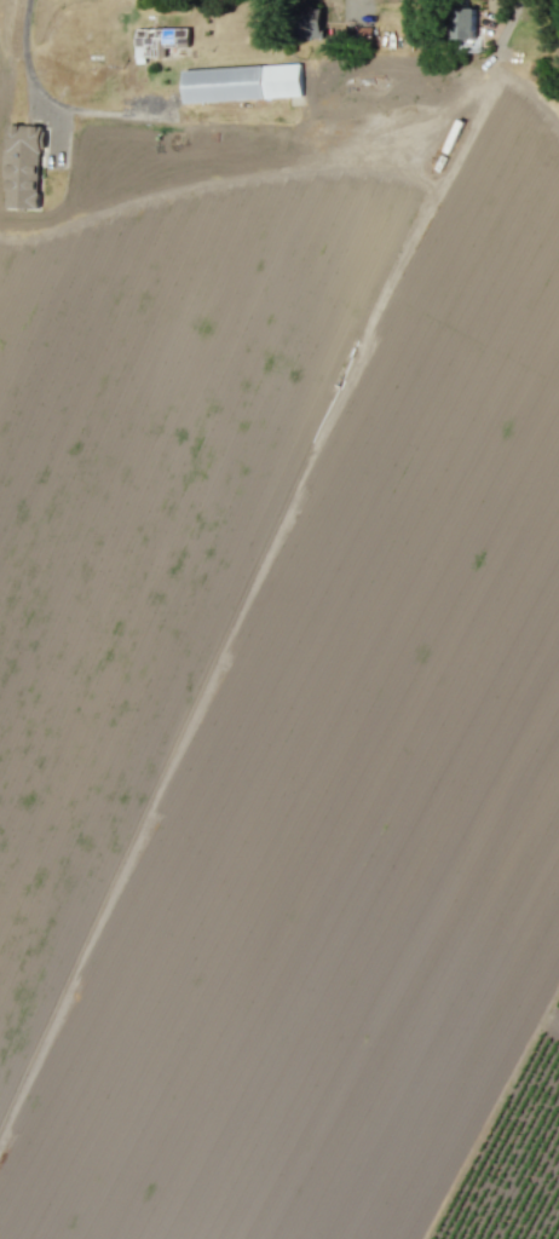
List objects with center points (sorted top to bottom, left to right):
building: (463, 19)
building: (309, 21)
building: (159, 40)
building: (242, 82)
road: (28, 83)
building: (23, 166)

